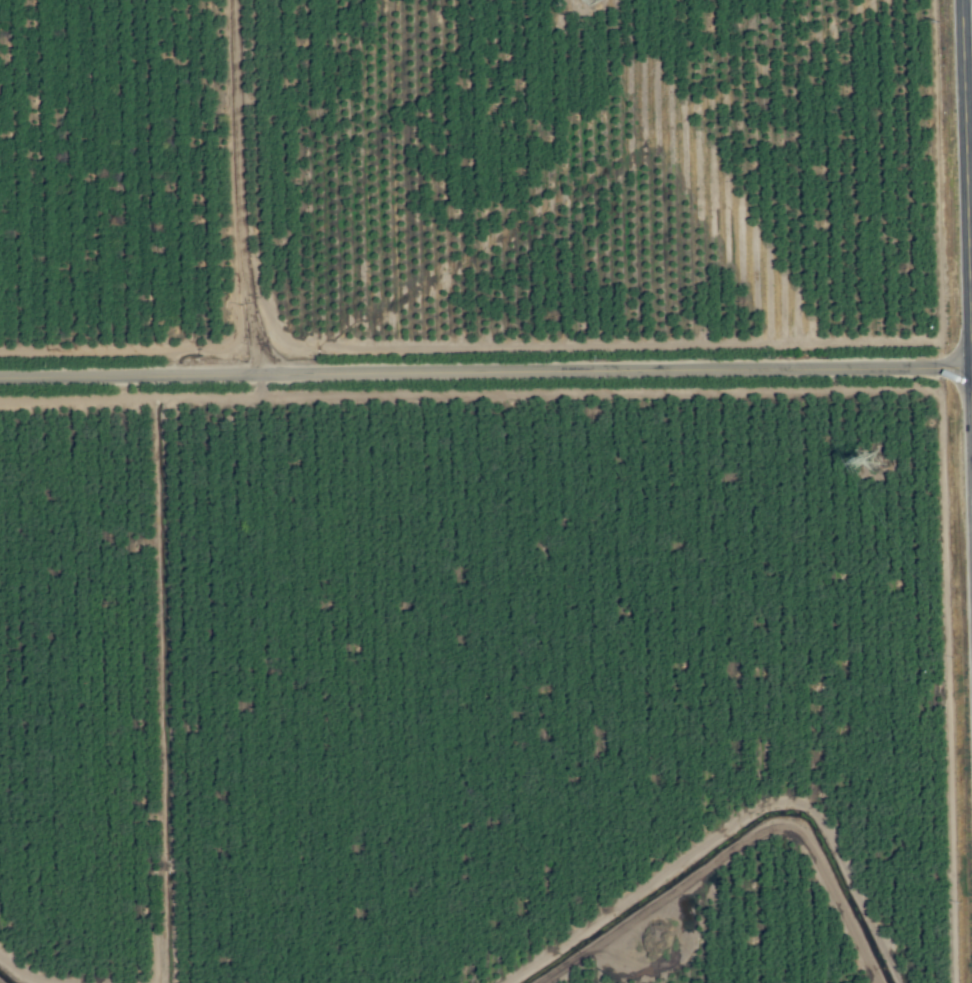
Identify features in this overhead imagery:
building: (591, 2)
road: (967, 139)
road: (239, 190)
road: (485, 376)
power tower: (870, 458)
crop: (489, 495)

